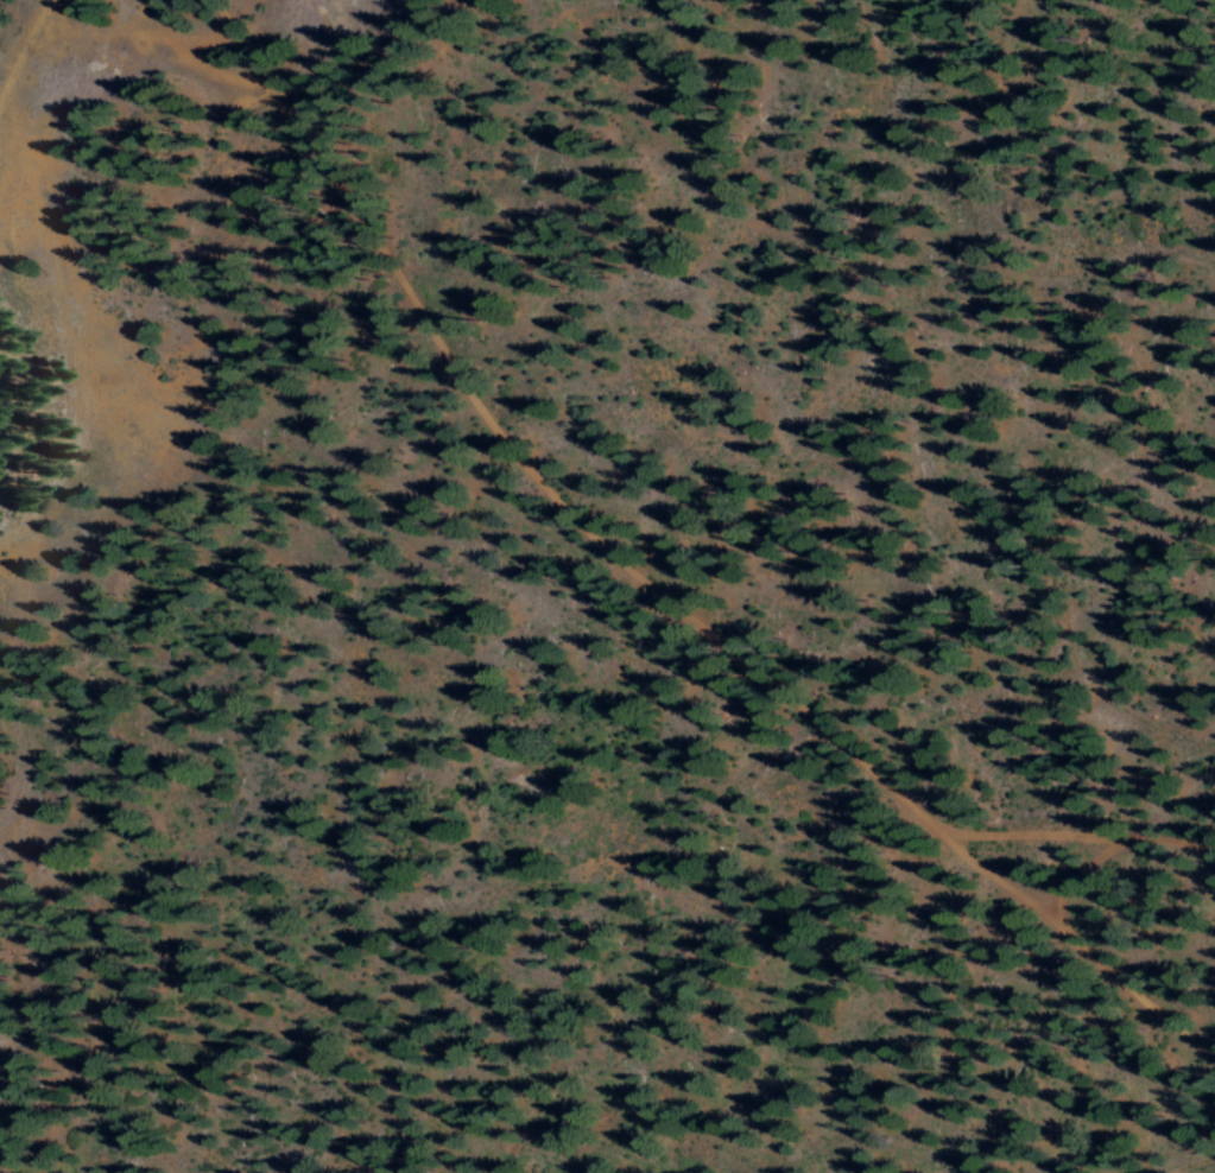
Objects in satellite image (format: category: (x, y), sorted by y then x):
road: (664, 582)

